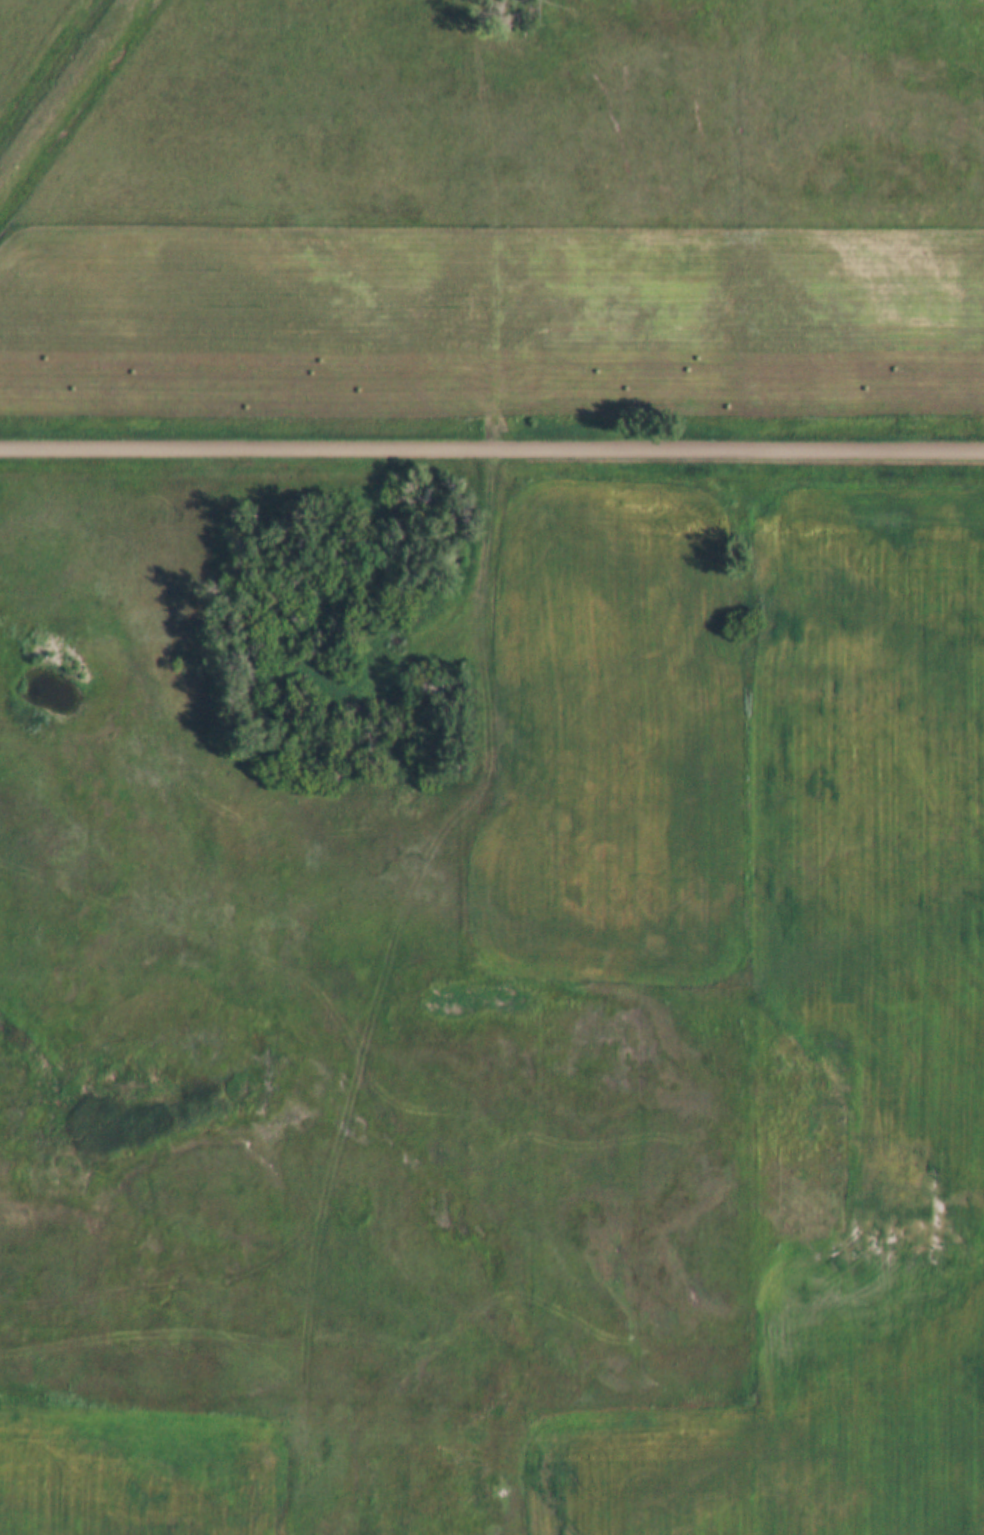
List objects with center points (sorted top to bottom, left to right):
road: (492, 447)
road: (479, 801)

